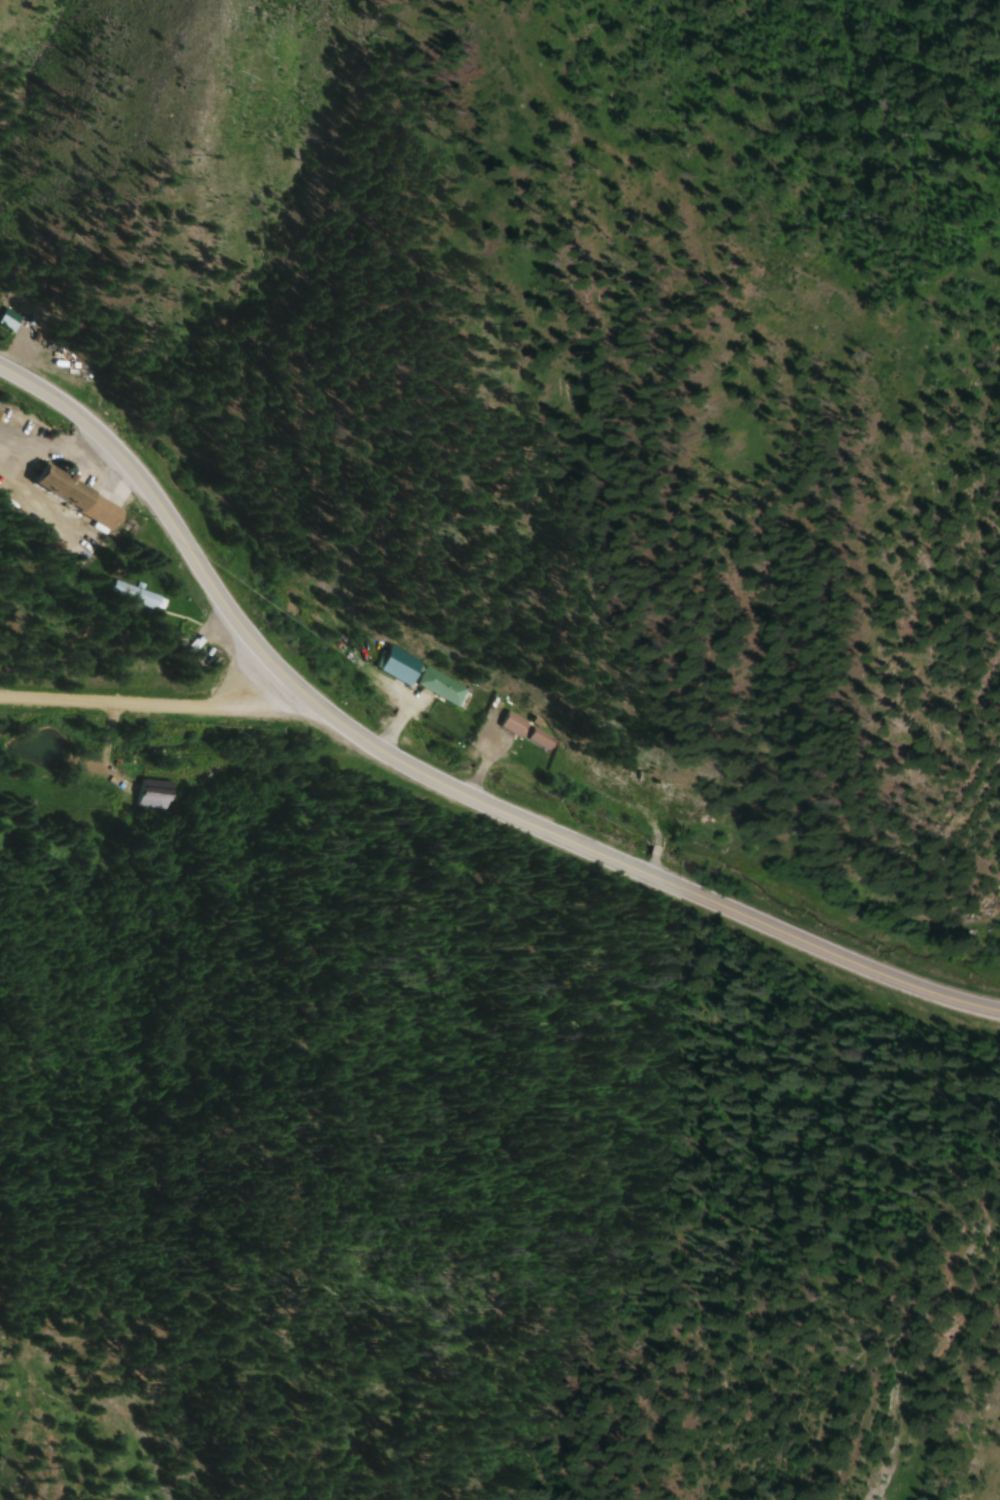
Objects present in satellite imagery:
building: (81, 497)
building: (137, 594)
building: (197, 650)
building: (404, 666)
road: (146, 704)
building: (518, 732)
road: (433, 782)
building: (154, 794)
building: (676, 807)
building: (996, 907)

